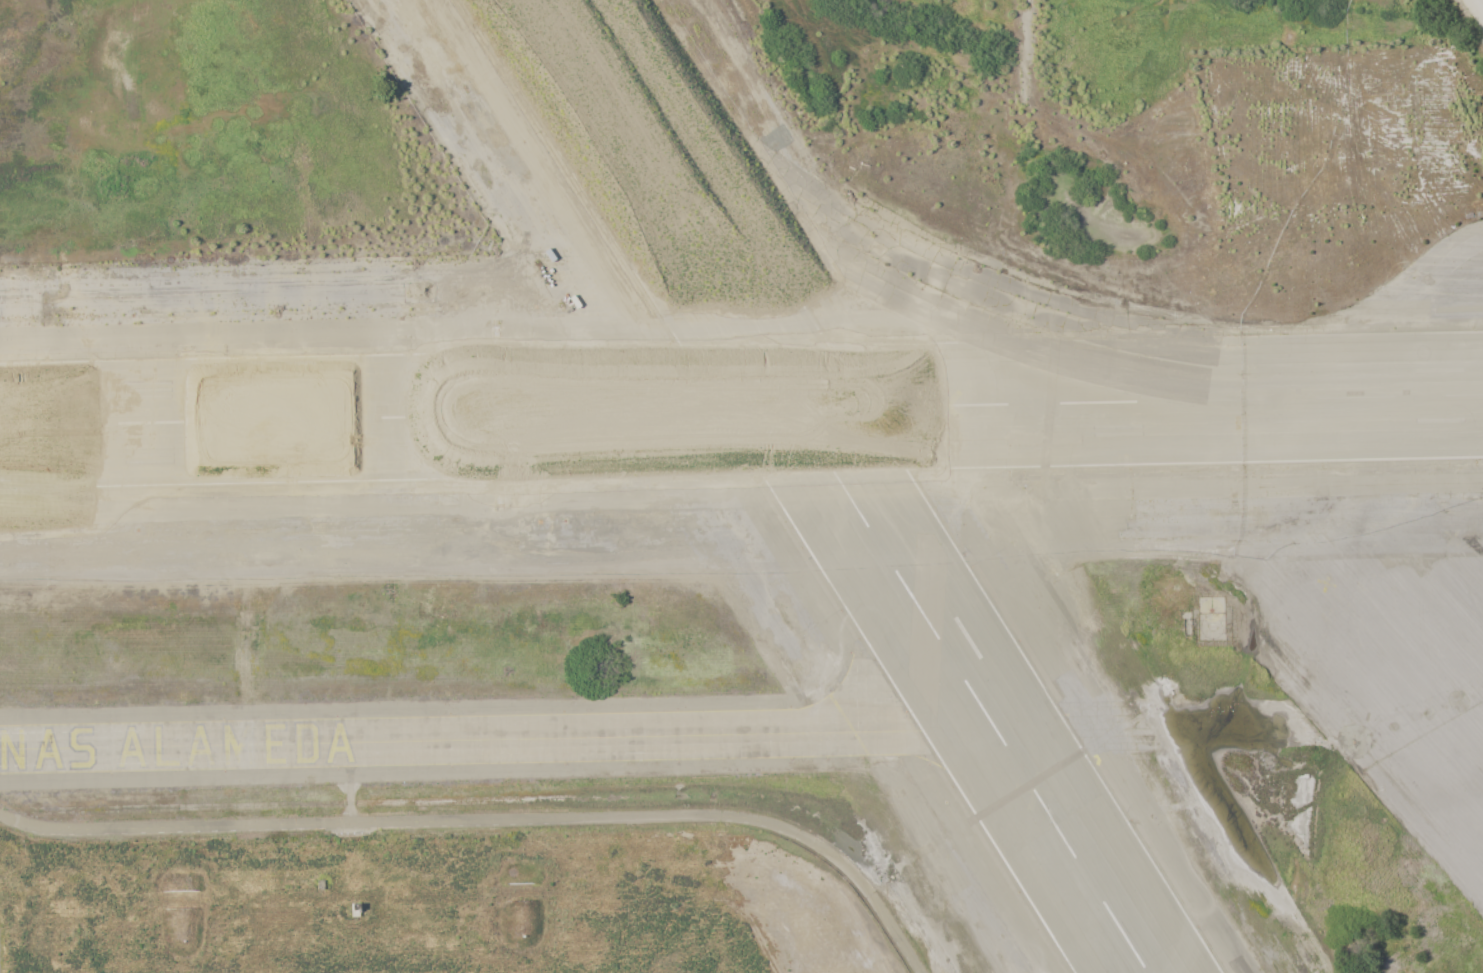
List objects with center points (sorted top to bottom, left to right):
road: (492, 821)

